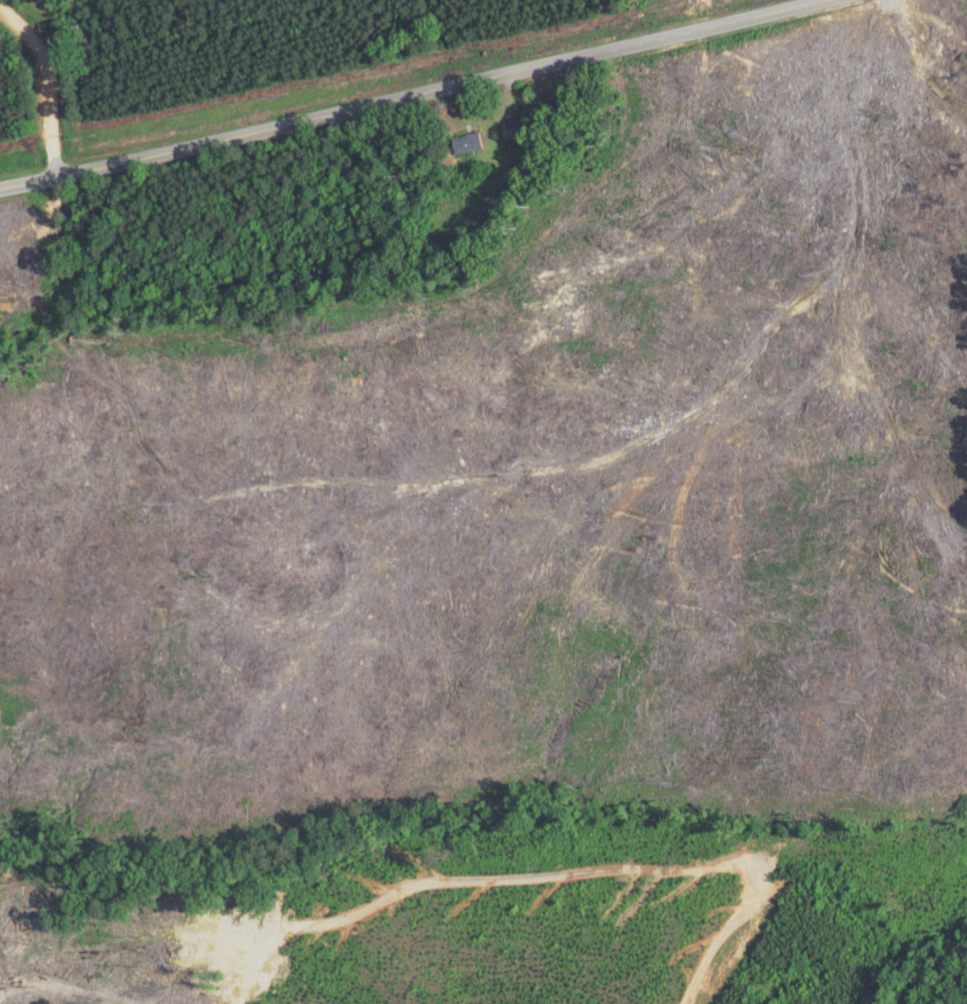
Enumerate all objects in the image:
road: (73, 72)
road: (419, 93)
building: (510, 128)
building: (463, 143)

